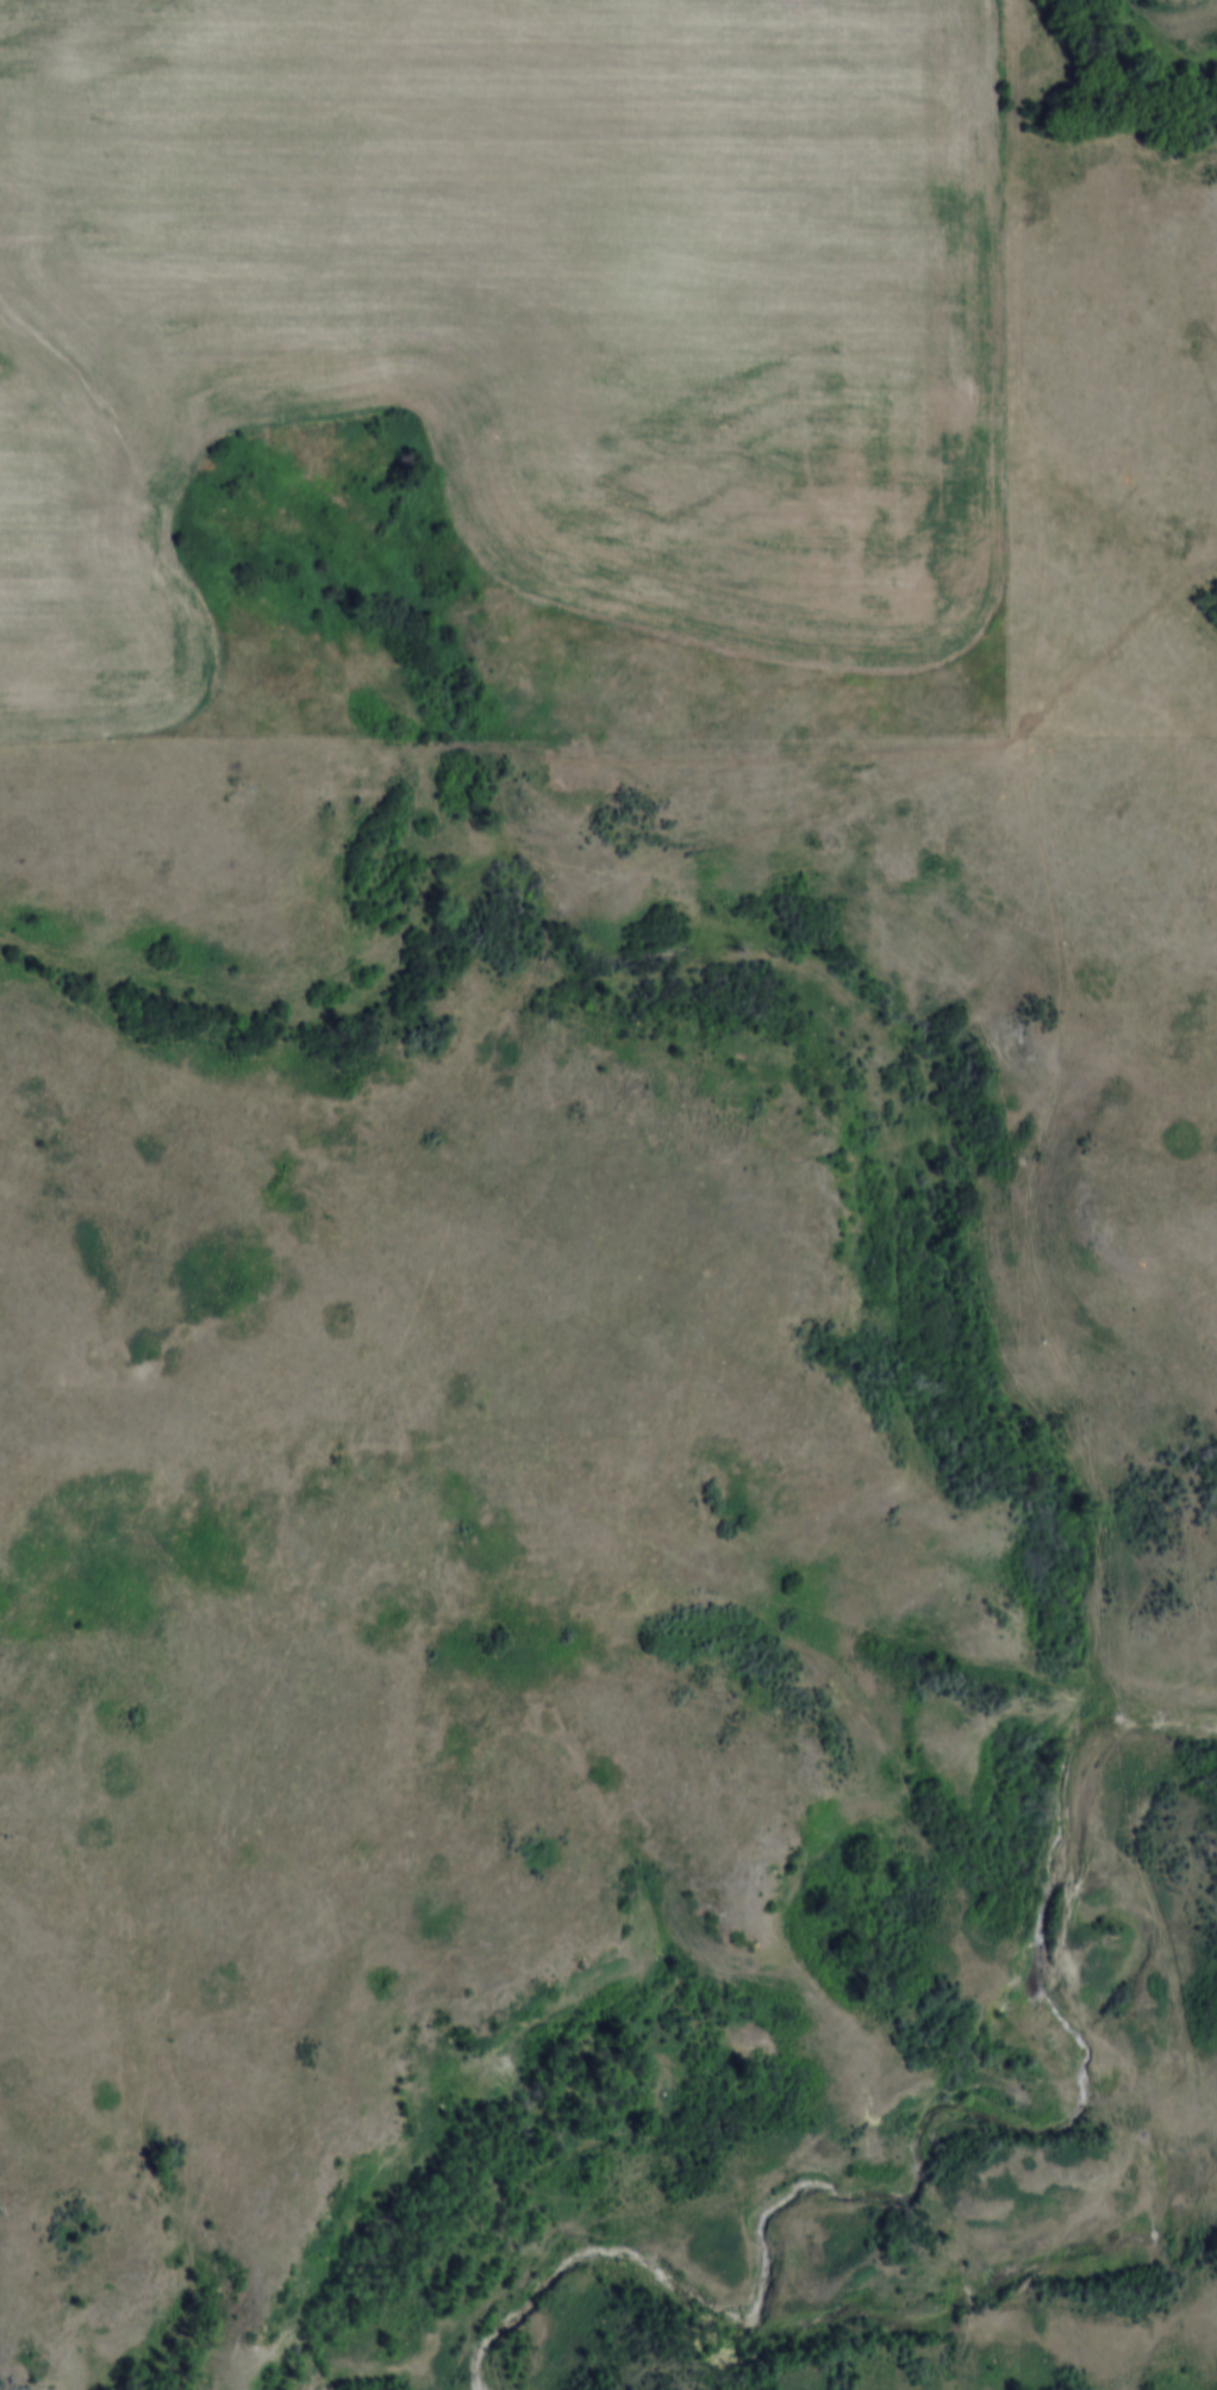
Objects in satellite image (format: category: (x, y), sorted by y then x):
building: (71, 122)

